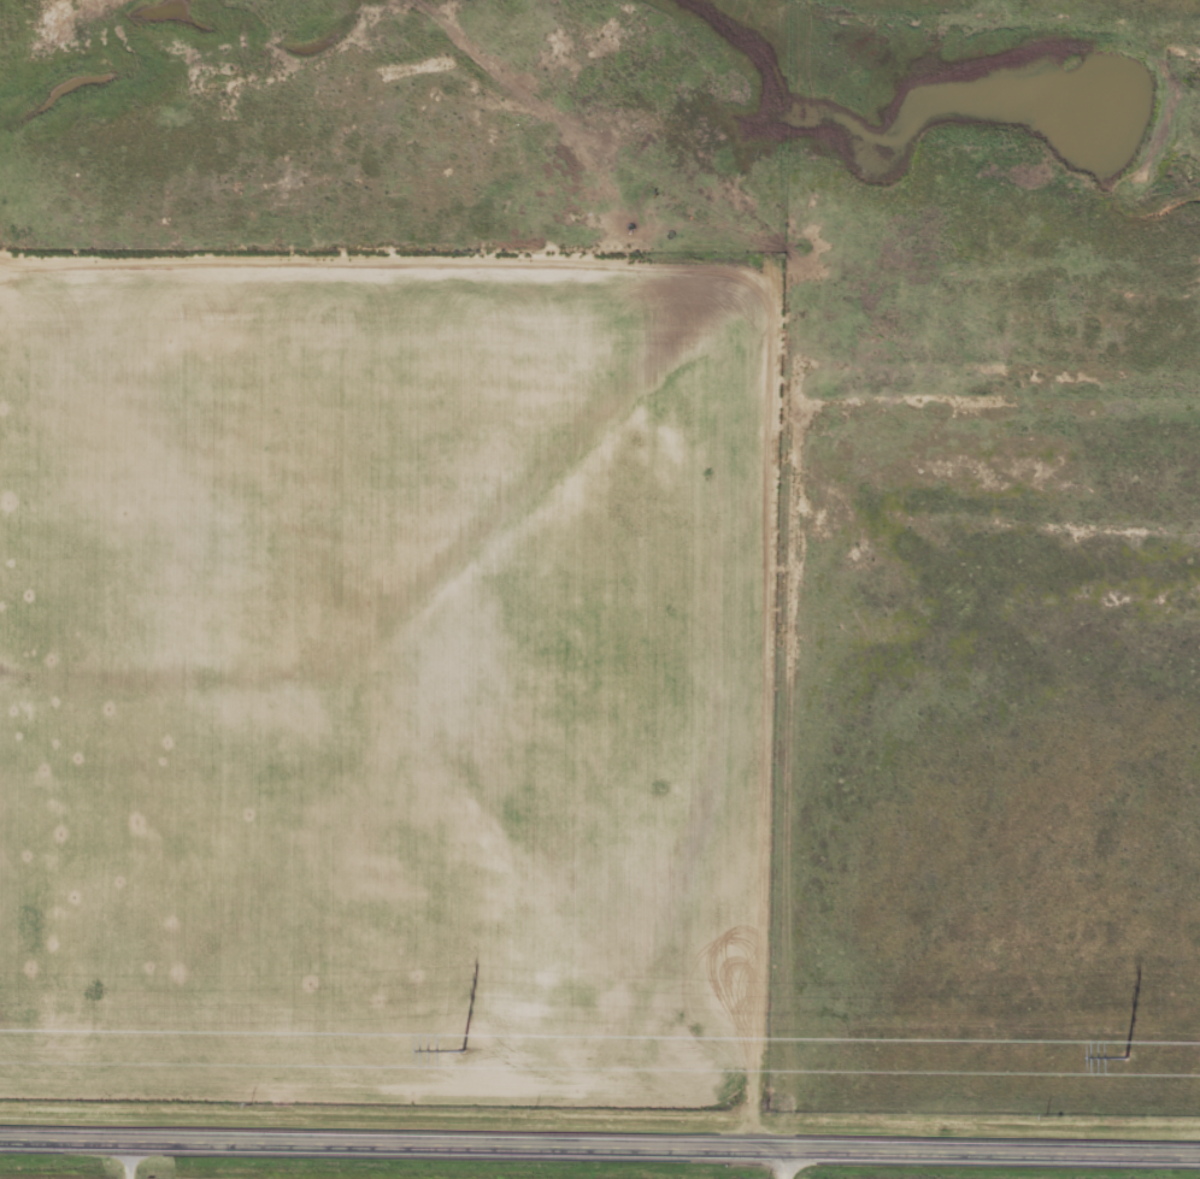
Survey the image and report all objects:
power tower: (463, 1051)
power tower: (1125, 1057)
road: (600, 1149)
road: (788, 1165)

